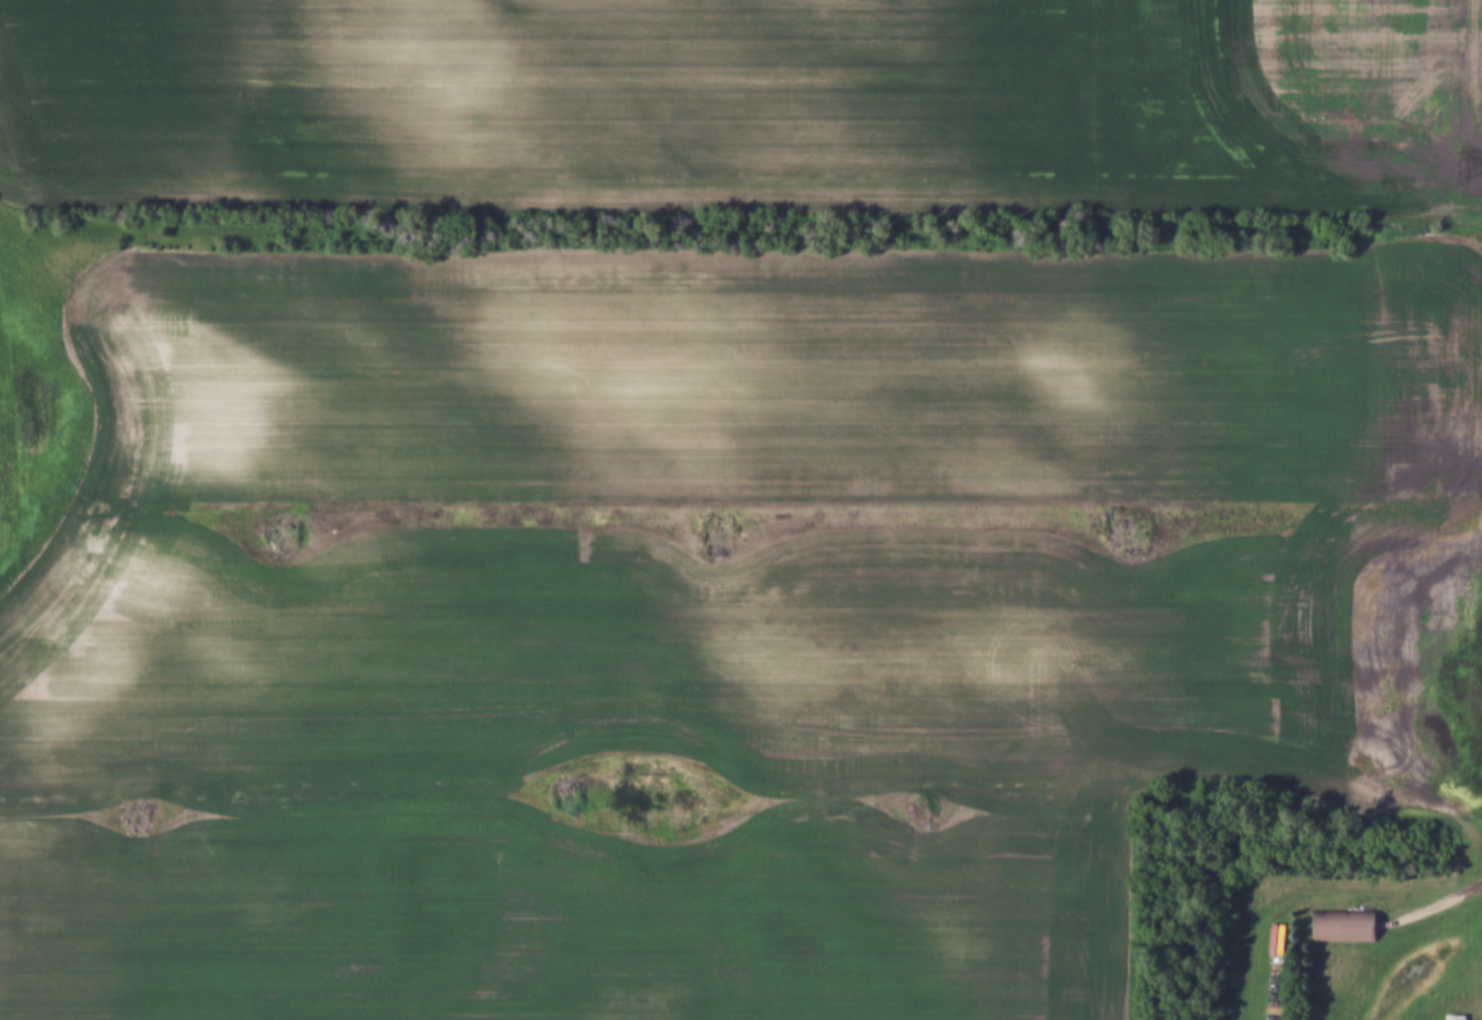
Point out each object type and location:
road: (1432, 904)
building: (1344, 929)
building: (1457, 1018)

